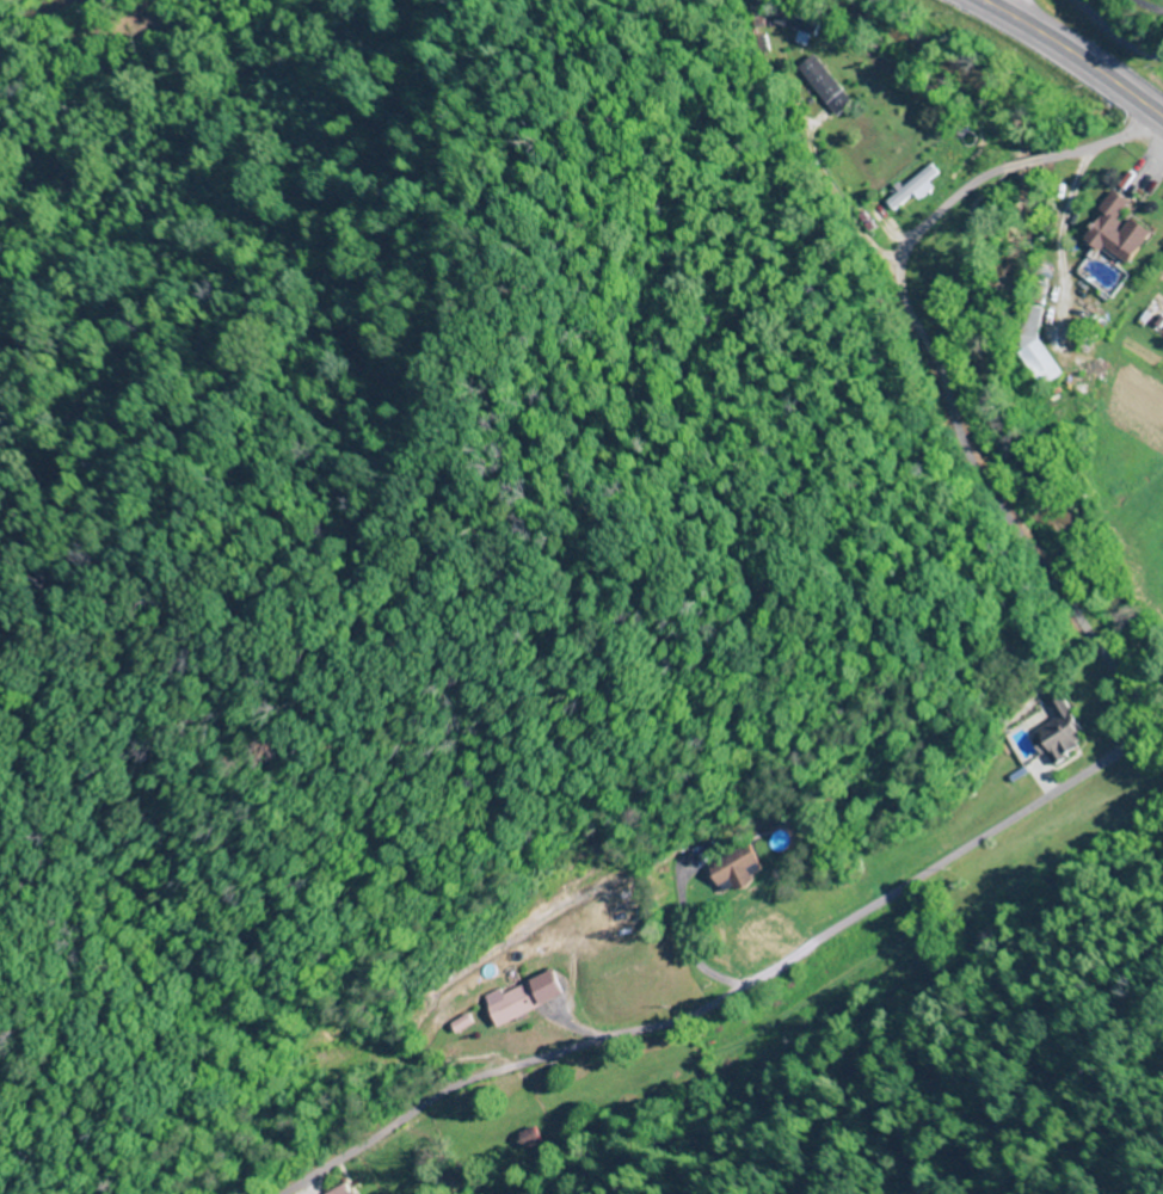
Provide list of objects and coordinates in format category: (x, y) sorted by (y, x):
road: (1015, 8)
building: (799, 27)
road: (1116, 33)
road: (1073, 56)
building: (1120, 229)
building: (1059, 733)
road: (1087, 769)
building: (740, 870)
building: (529, 997)
building: (464, 1023)
building: (345, 1189)

